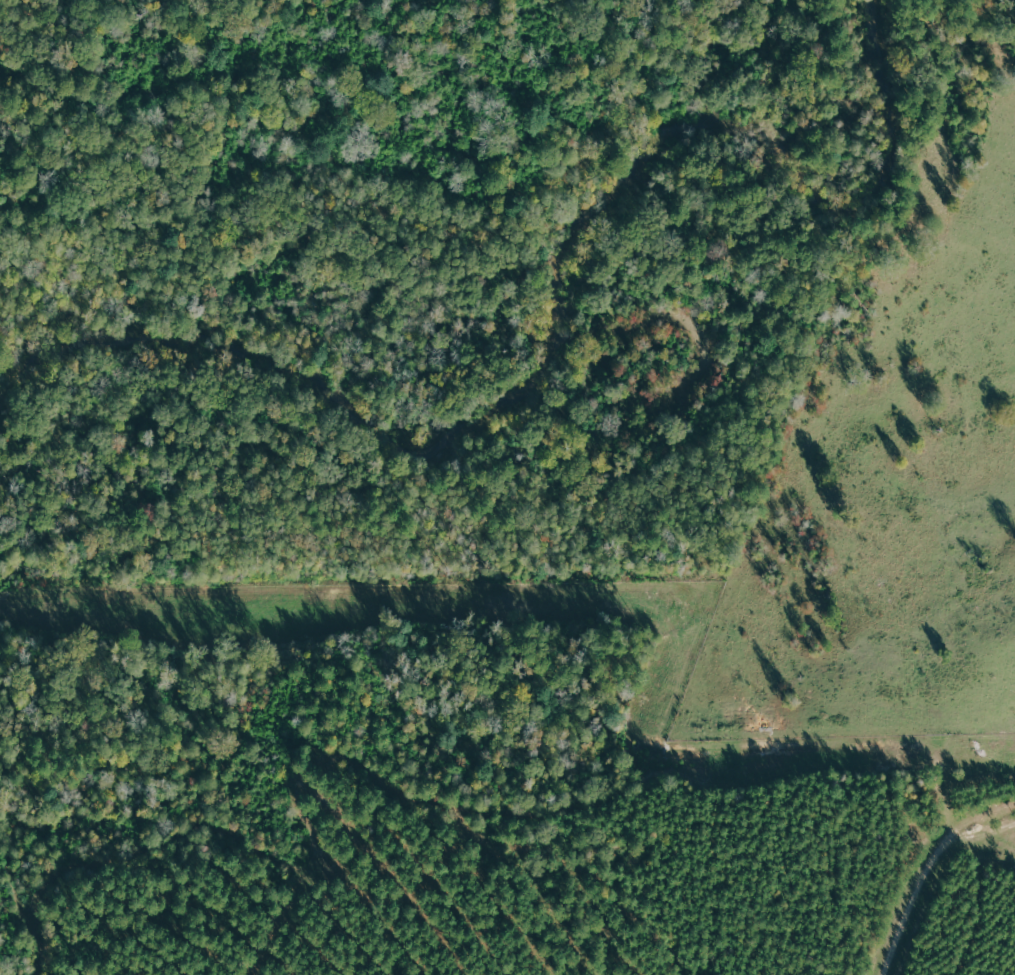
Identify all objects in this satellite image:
road: (920, 867)

